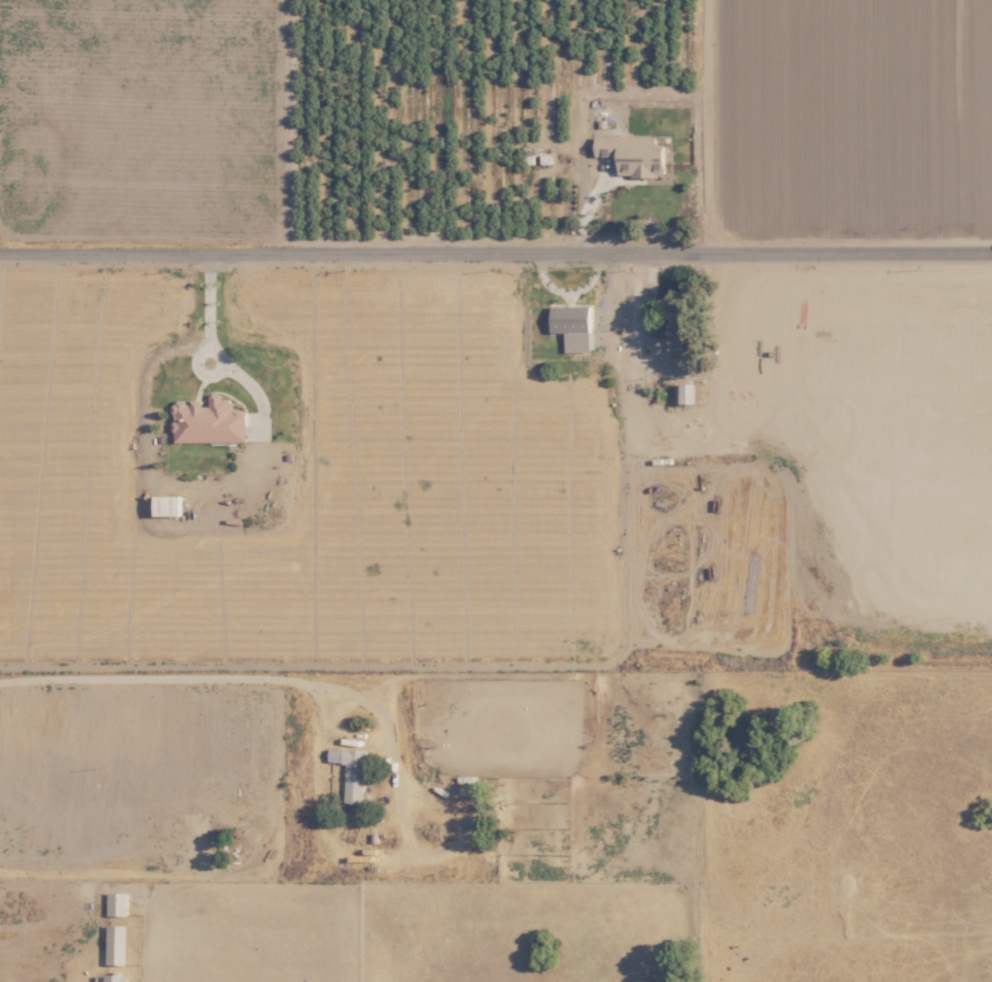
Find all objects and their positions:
crop: (850, 127)
road: (589, 207)
road: (495, 253)
road: (648, 296)
road: (566, 299)
building: (571, 325)
building: (674, 326)
road: (212, 348)
building: (686, 393)
building: (206, 421)
building: (165, 505)
road: (187, 678)
building: (349, 771)
building: (115, 904)
building: (114, 945)

